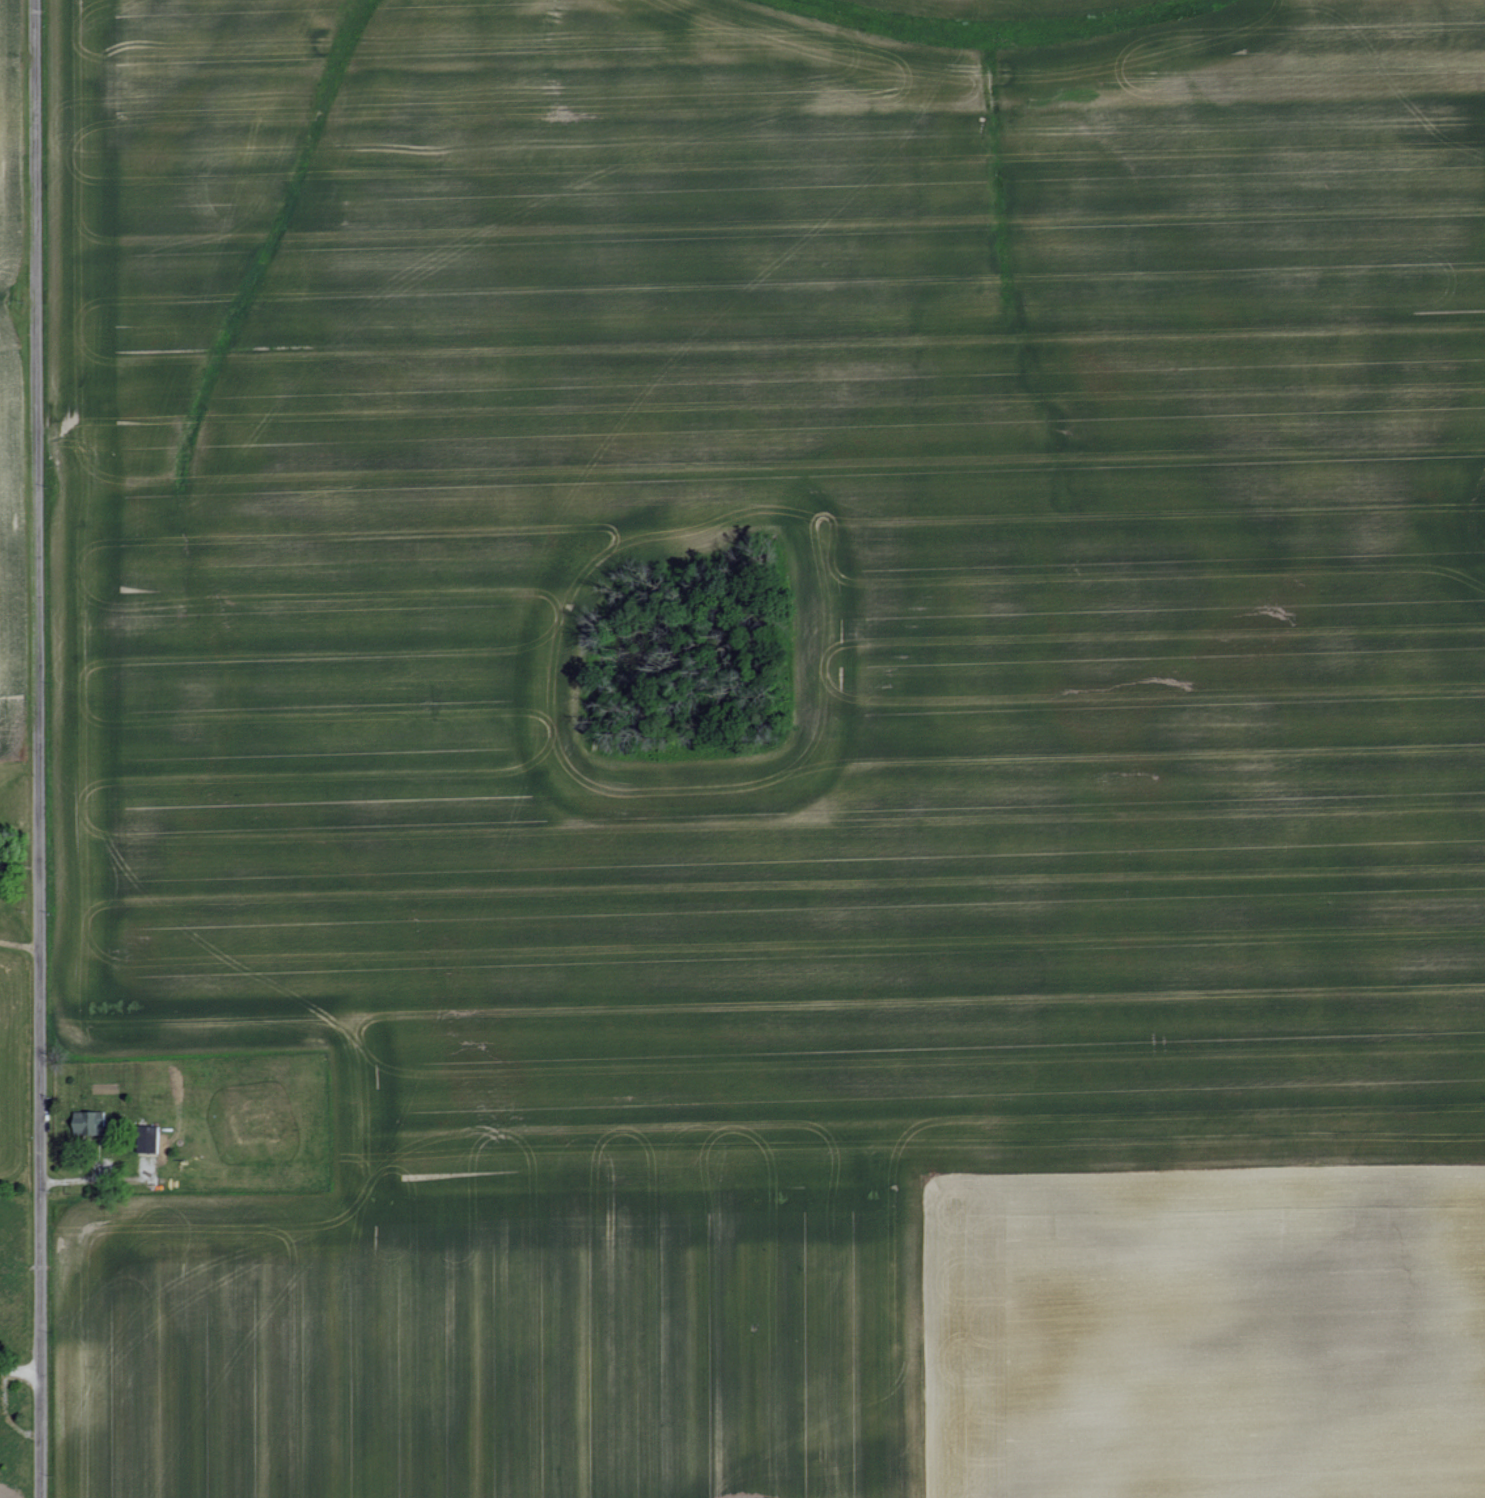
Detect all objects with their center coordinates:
road: (35, 749)
road: (18, 948)
building: (89, 1122)
road: (14, 1370)

